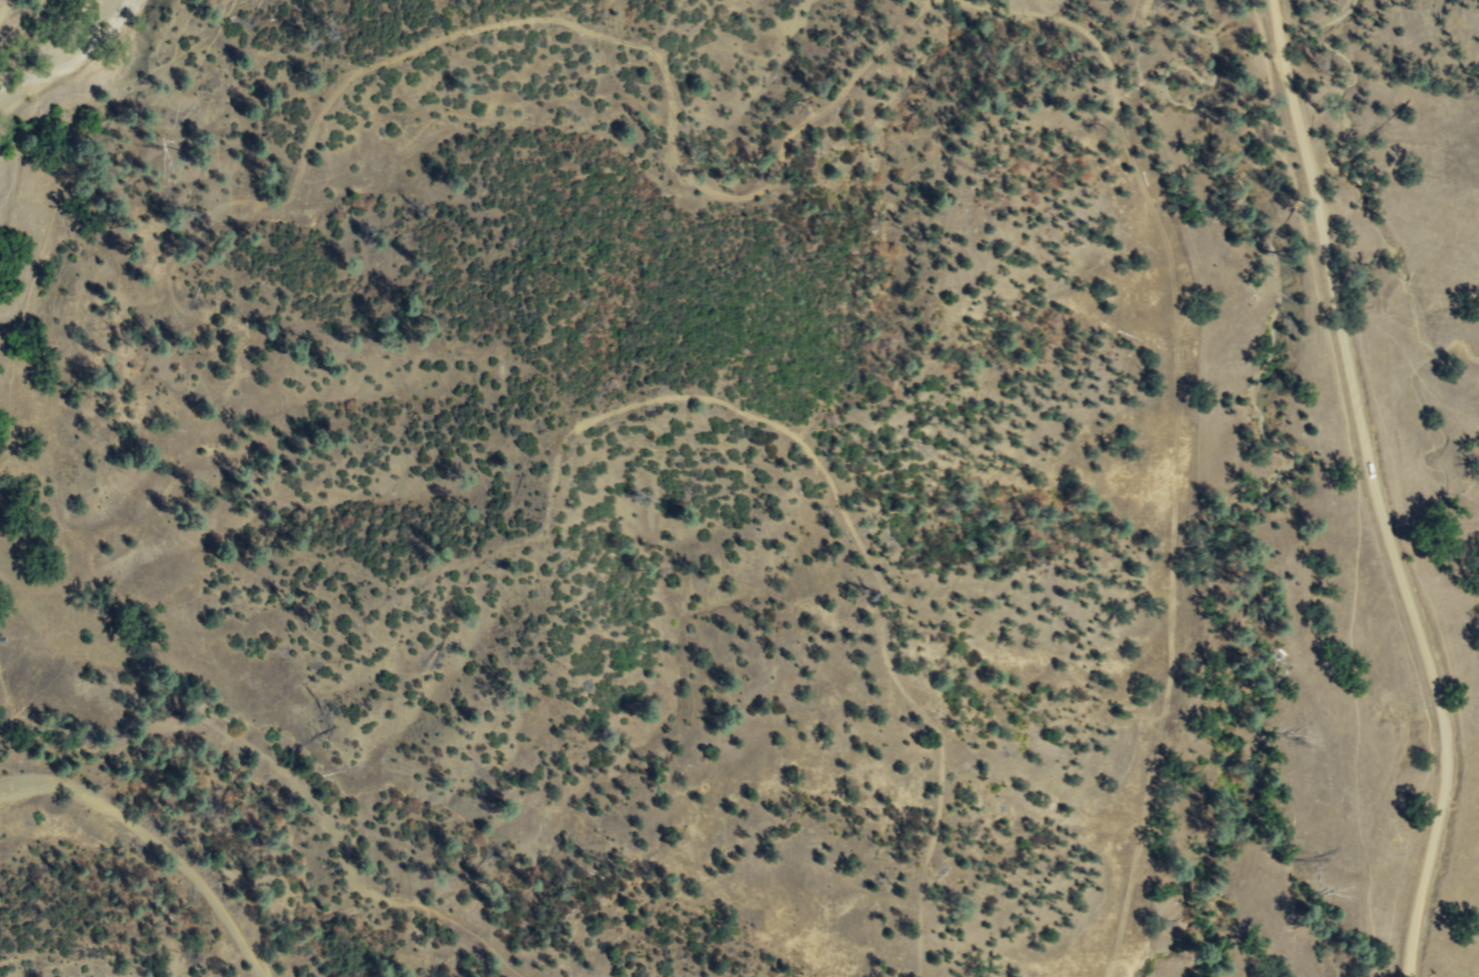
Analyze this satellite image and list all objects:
river: (70, 58)
road: (1390, 490)
road: (164, 836)

